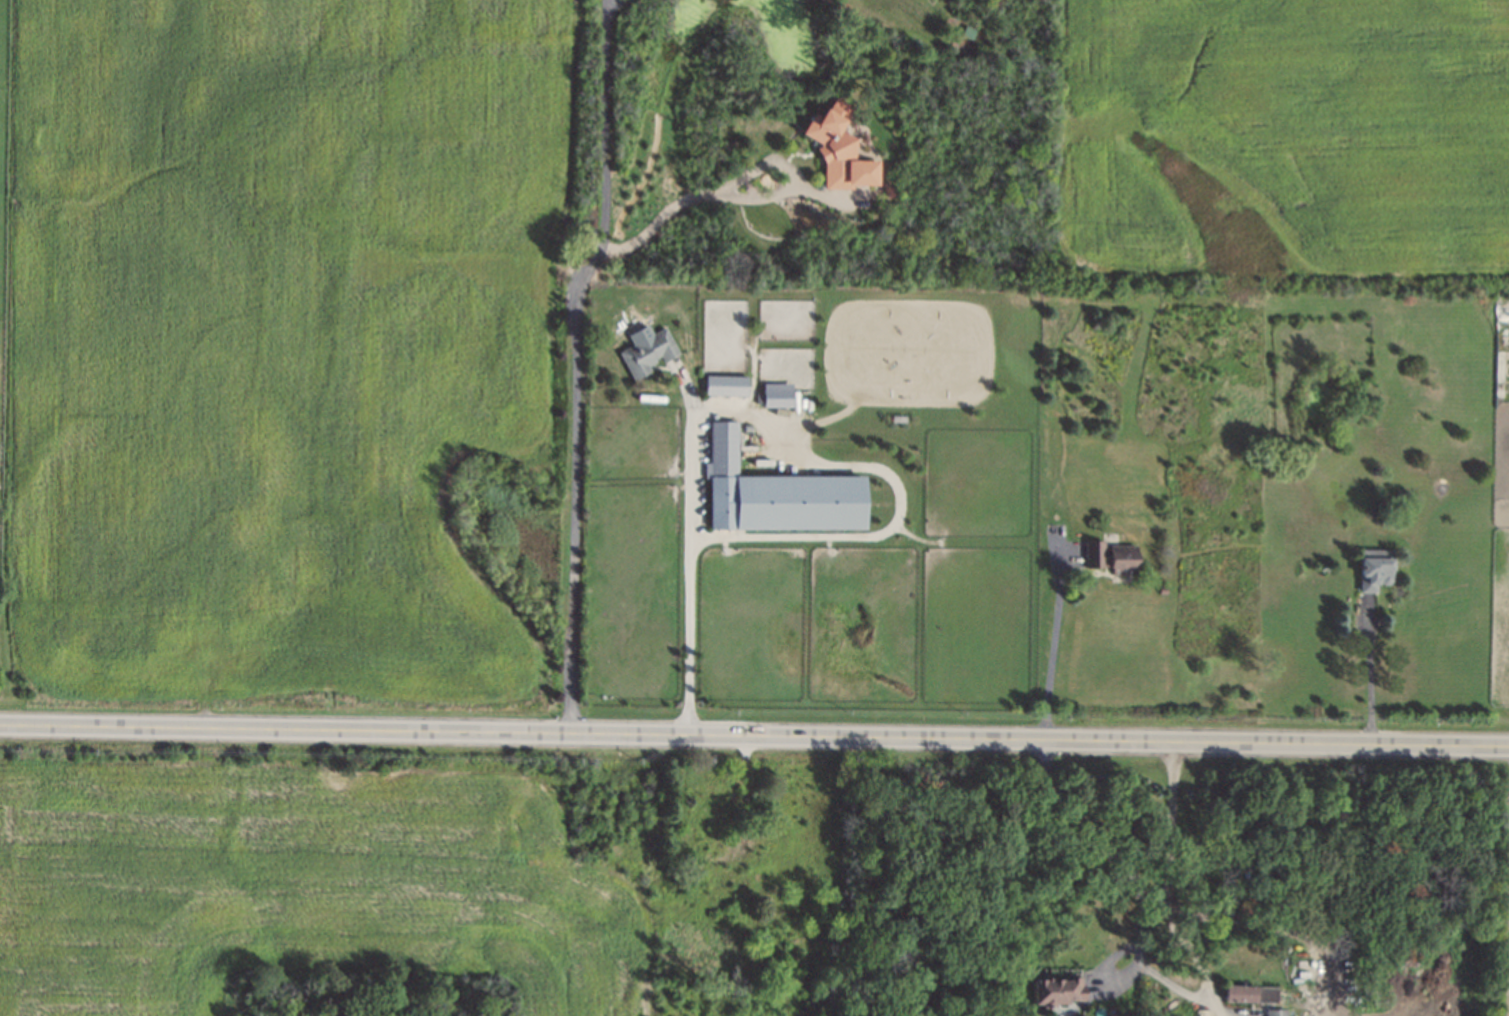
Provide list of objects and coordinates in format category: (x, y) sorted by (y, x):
road: (607, 0)
crop: (1289, 134)
building: (833, 150)
road: (743, 197)
crop: (294, 348)
crop: (910, 353)
building: (648, 354)
road: (572, 360)
building: (726, 385)
building: (778, 396)
building: (723, 450)
road: (897, 487)
building: (784, 504)
road: (694, 547)
building: (1109, 558)
building: (1375, 571)
road: (1053, 651)
road: (1373, 672)
road: (754, 735)
crop: (297, 887)
road: (1139, 887)
road: (1173, 911)
road: (1286, 929)
crop: (1508, 941)
building: (1056, 991)
building: (1251, 995)
road: (1218, 1005)
building: (1276, 1013)

